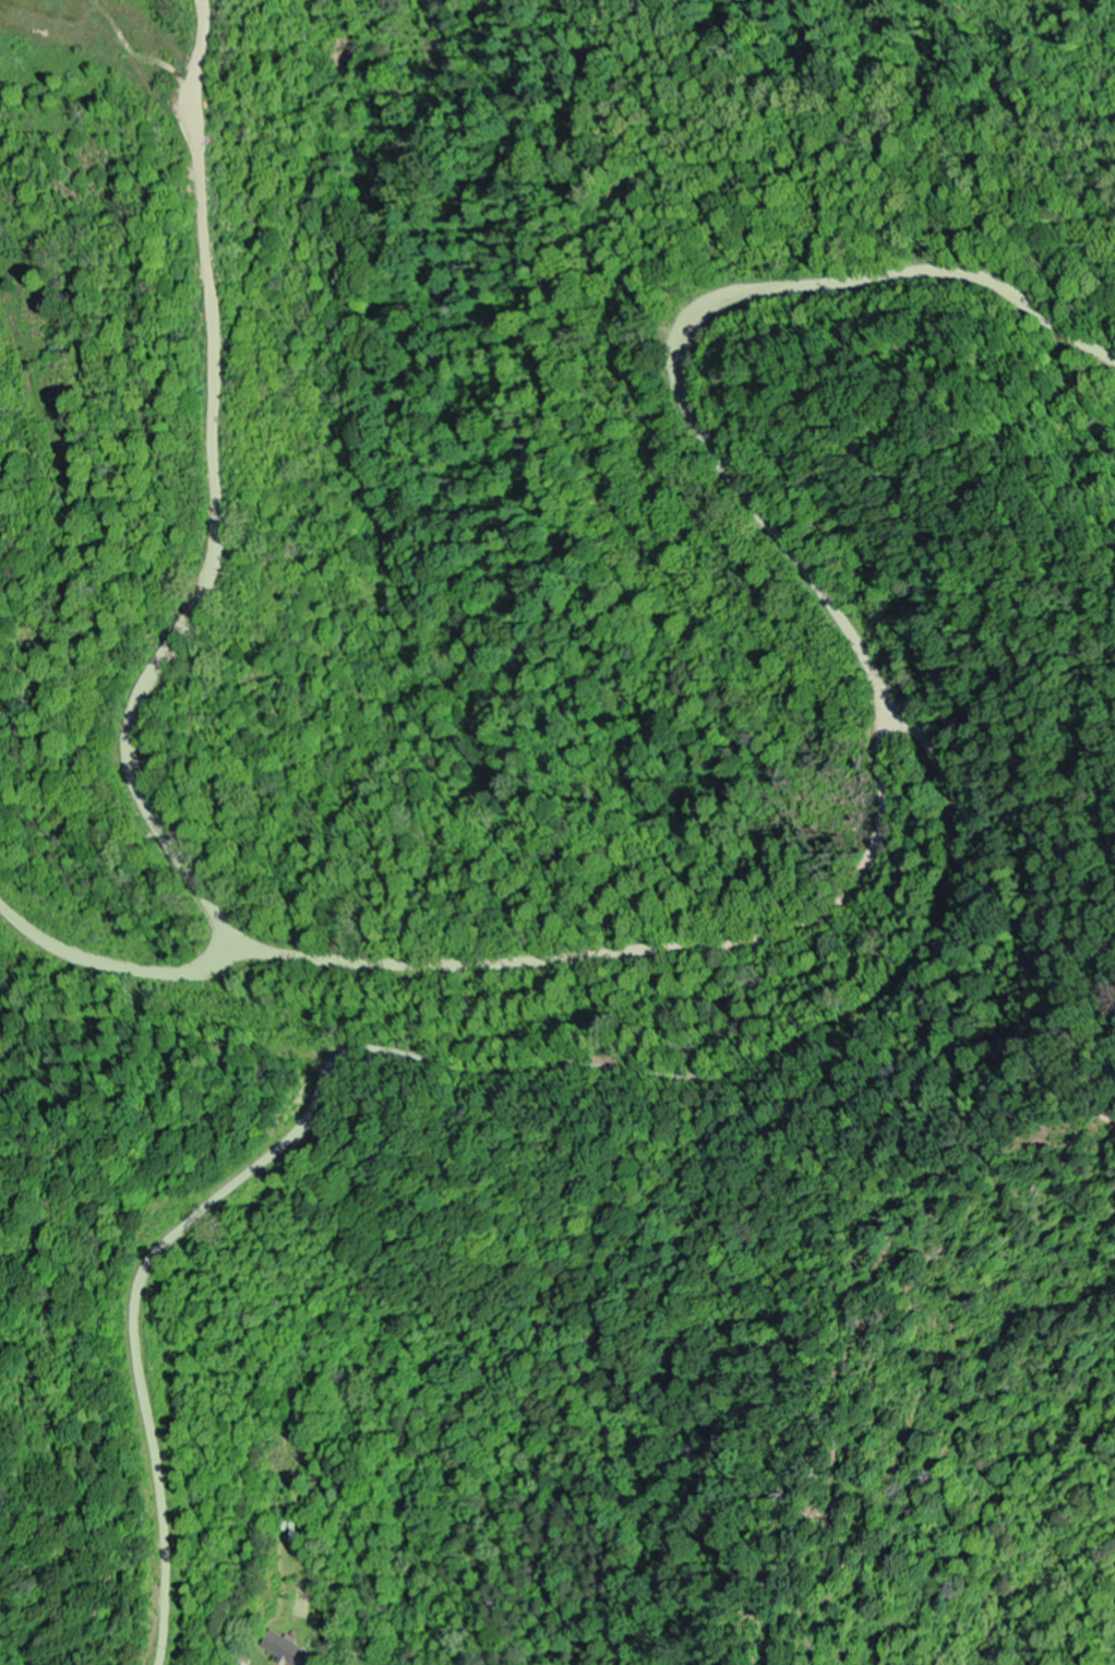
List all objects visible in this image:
road: (878, 1004)
building: (291, 1652)

